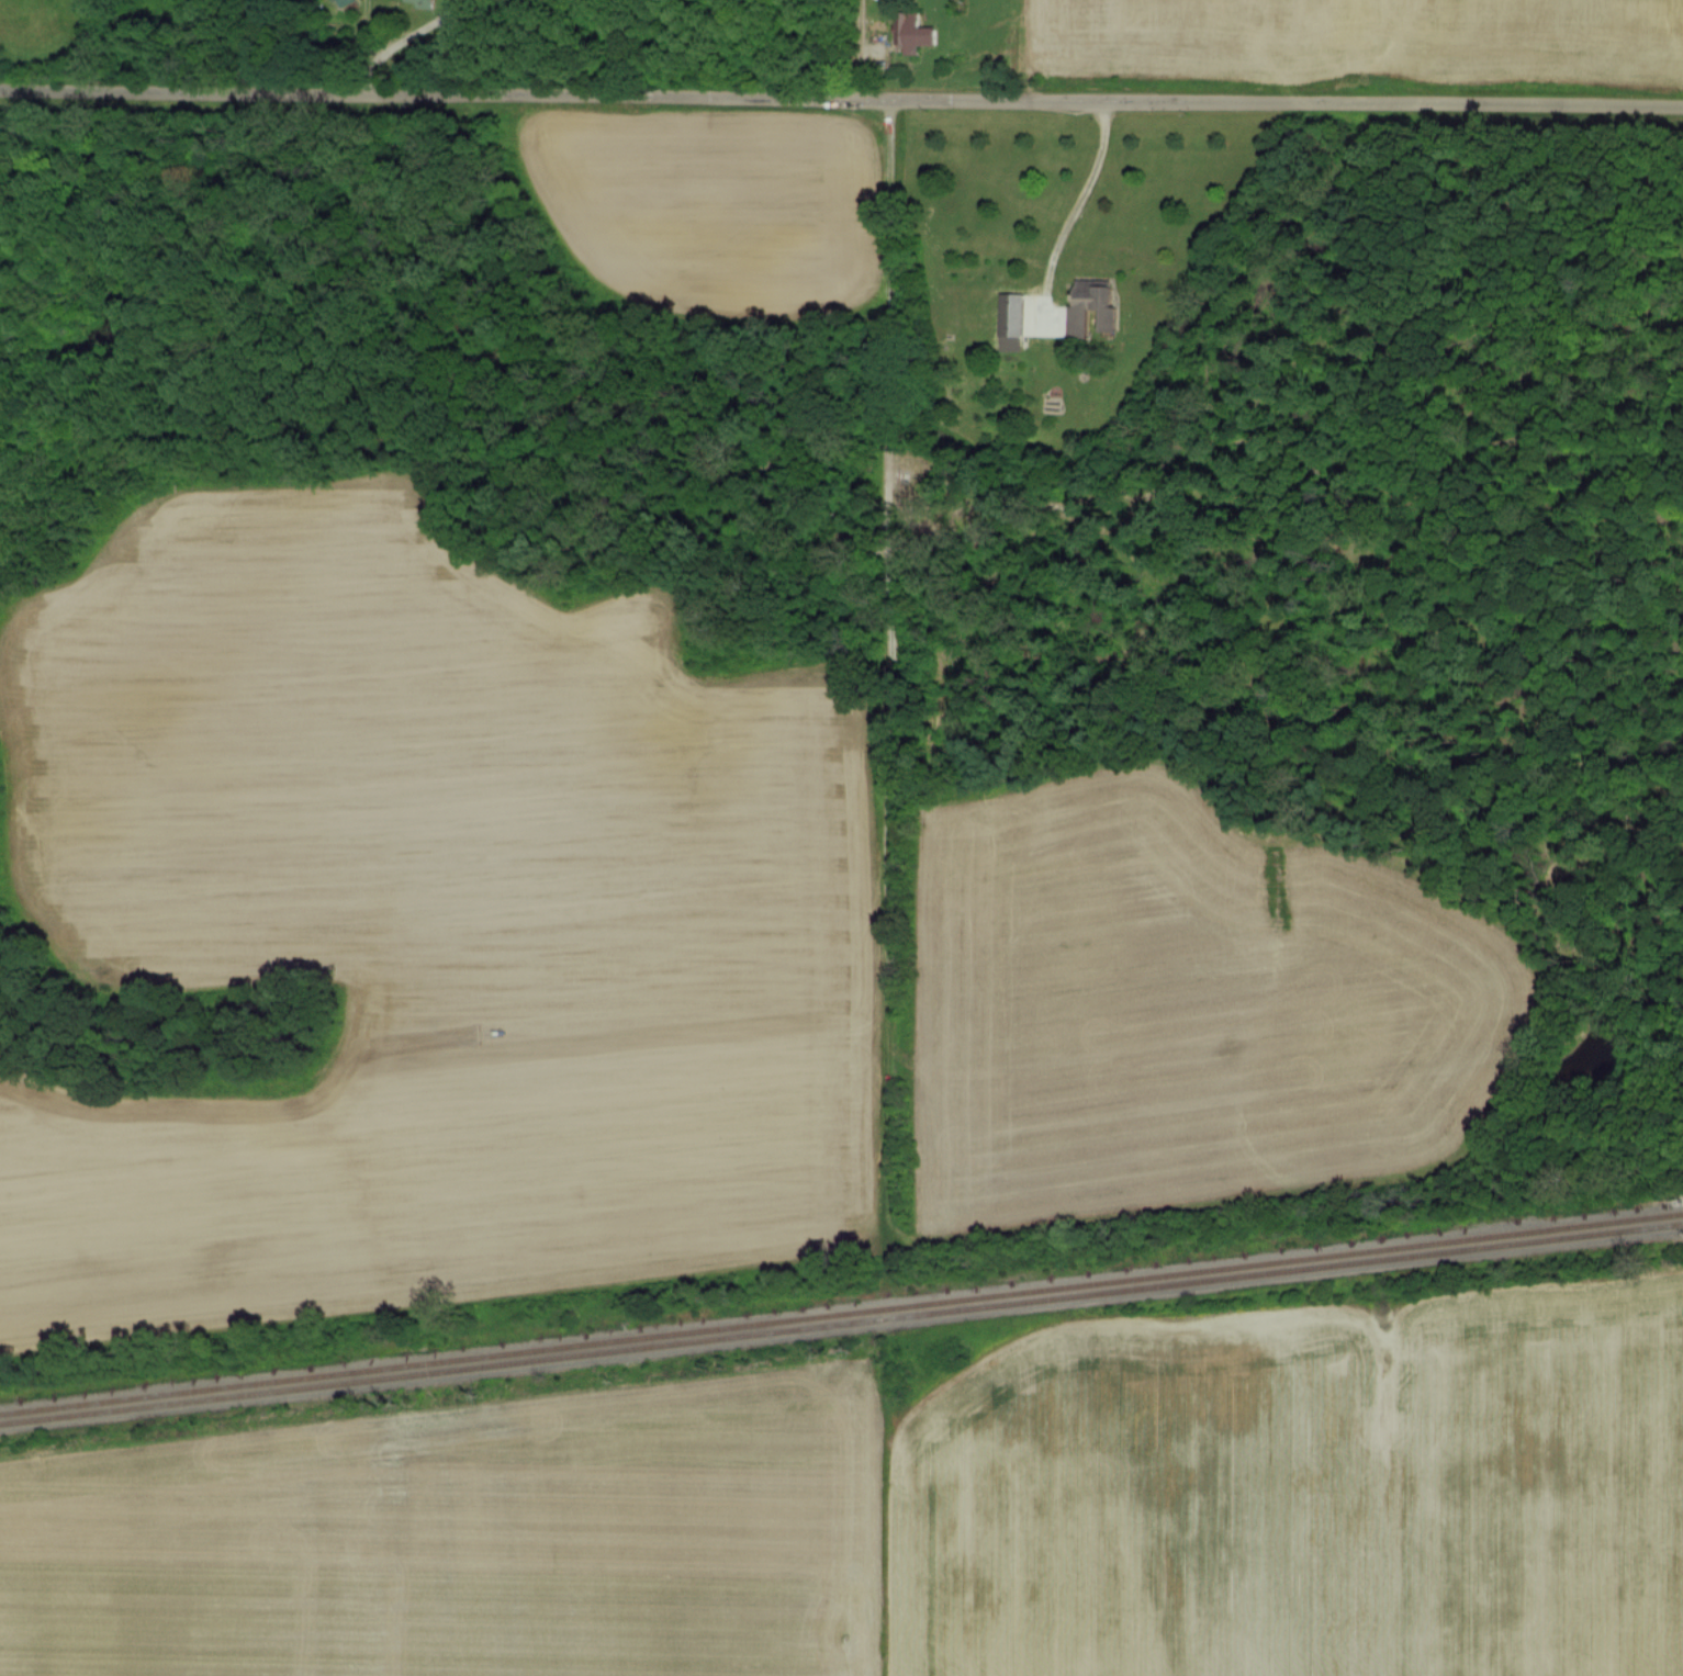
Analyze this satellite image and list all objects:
road: (854, 53)
road: (841, 104)
road: (1076, 213)
building: (1095, 297)
railway: (841, 1314)
railway: (841, 1324)
road: (886, 1532)

